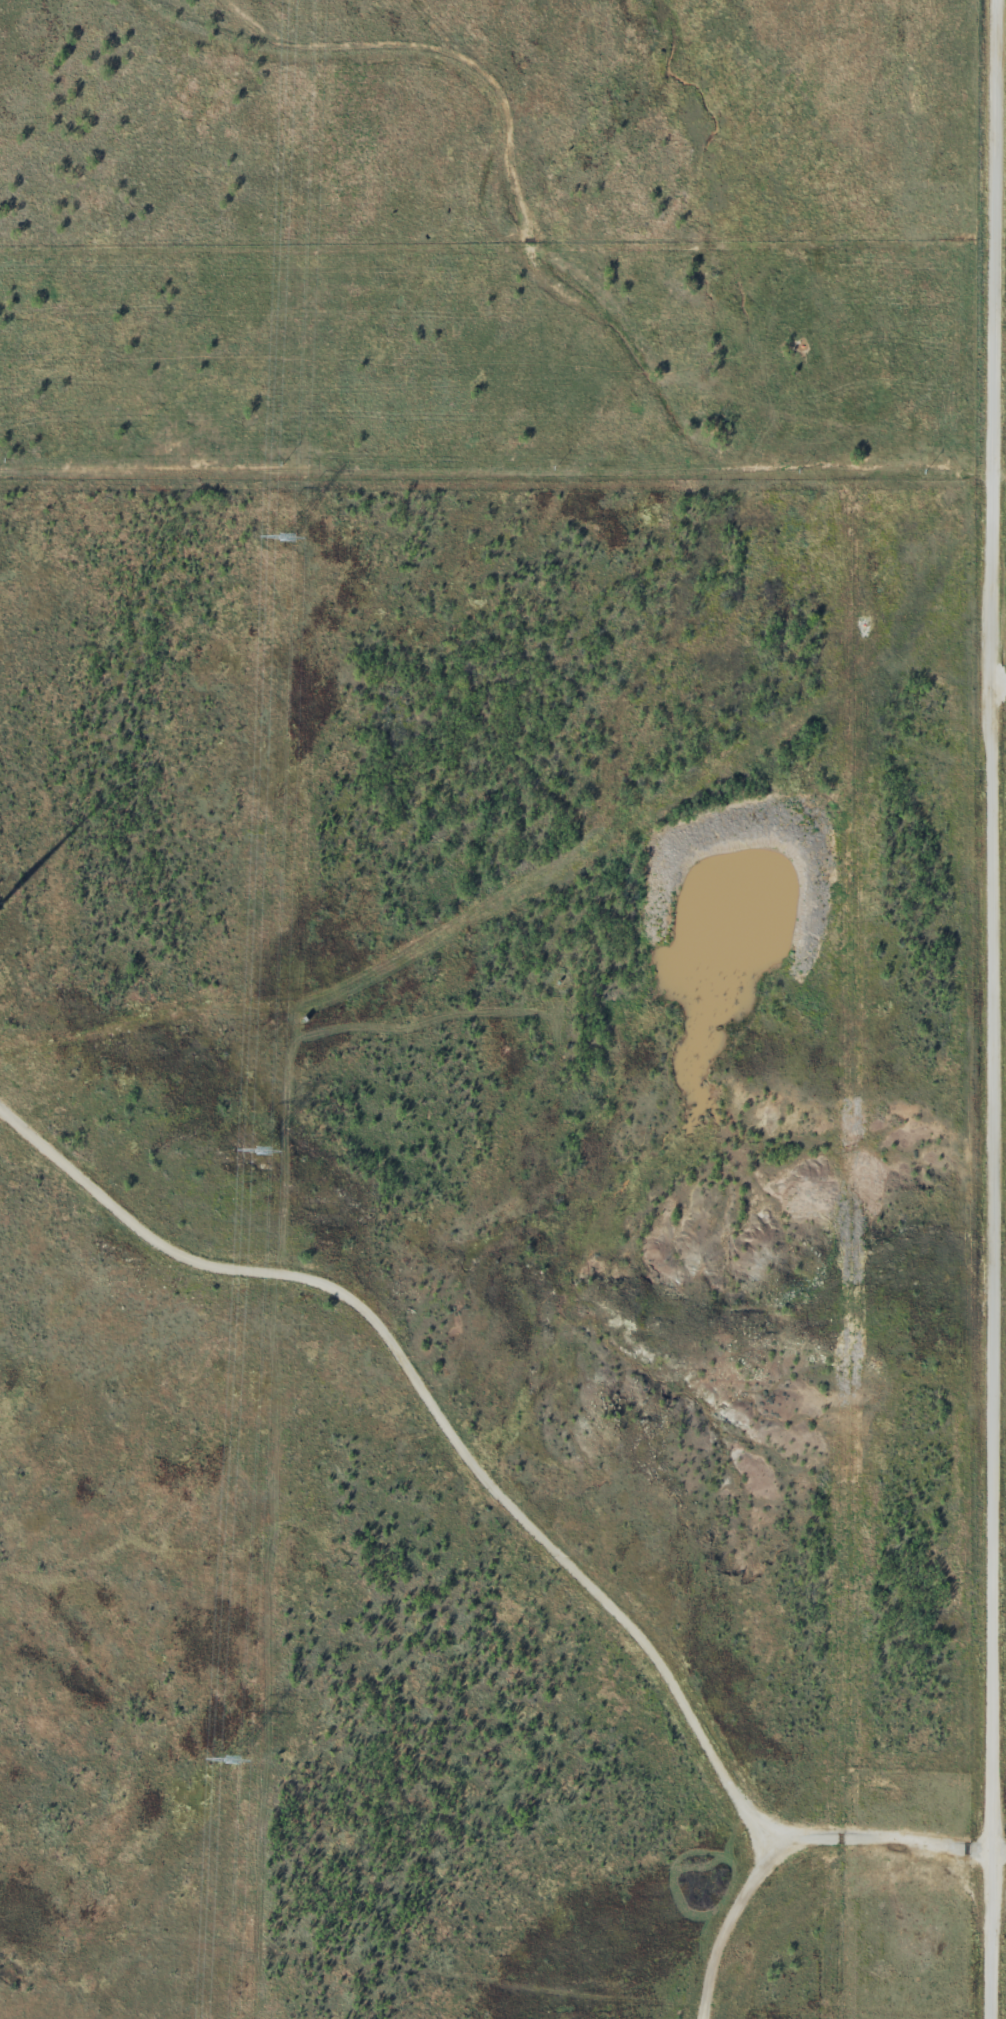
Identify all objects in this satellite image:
road: (628, 365)
power tower: (288, 535)
road: (1001, 698)
road: (997, 1009)
power tower: (265, 1149)
power tower: (230, 1758)
road: (474, 1988)

